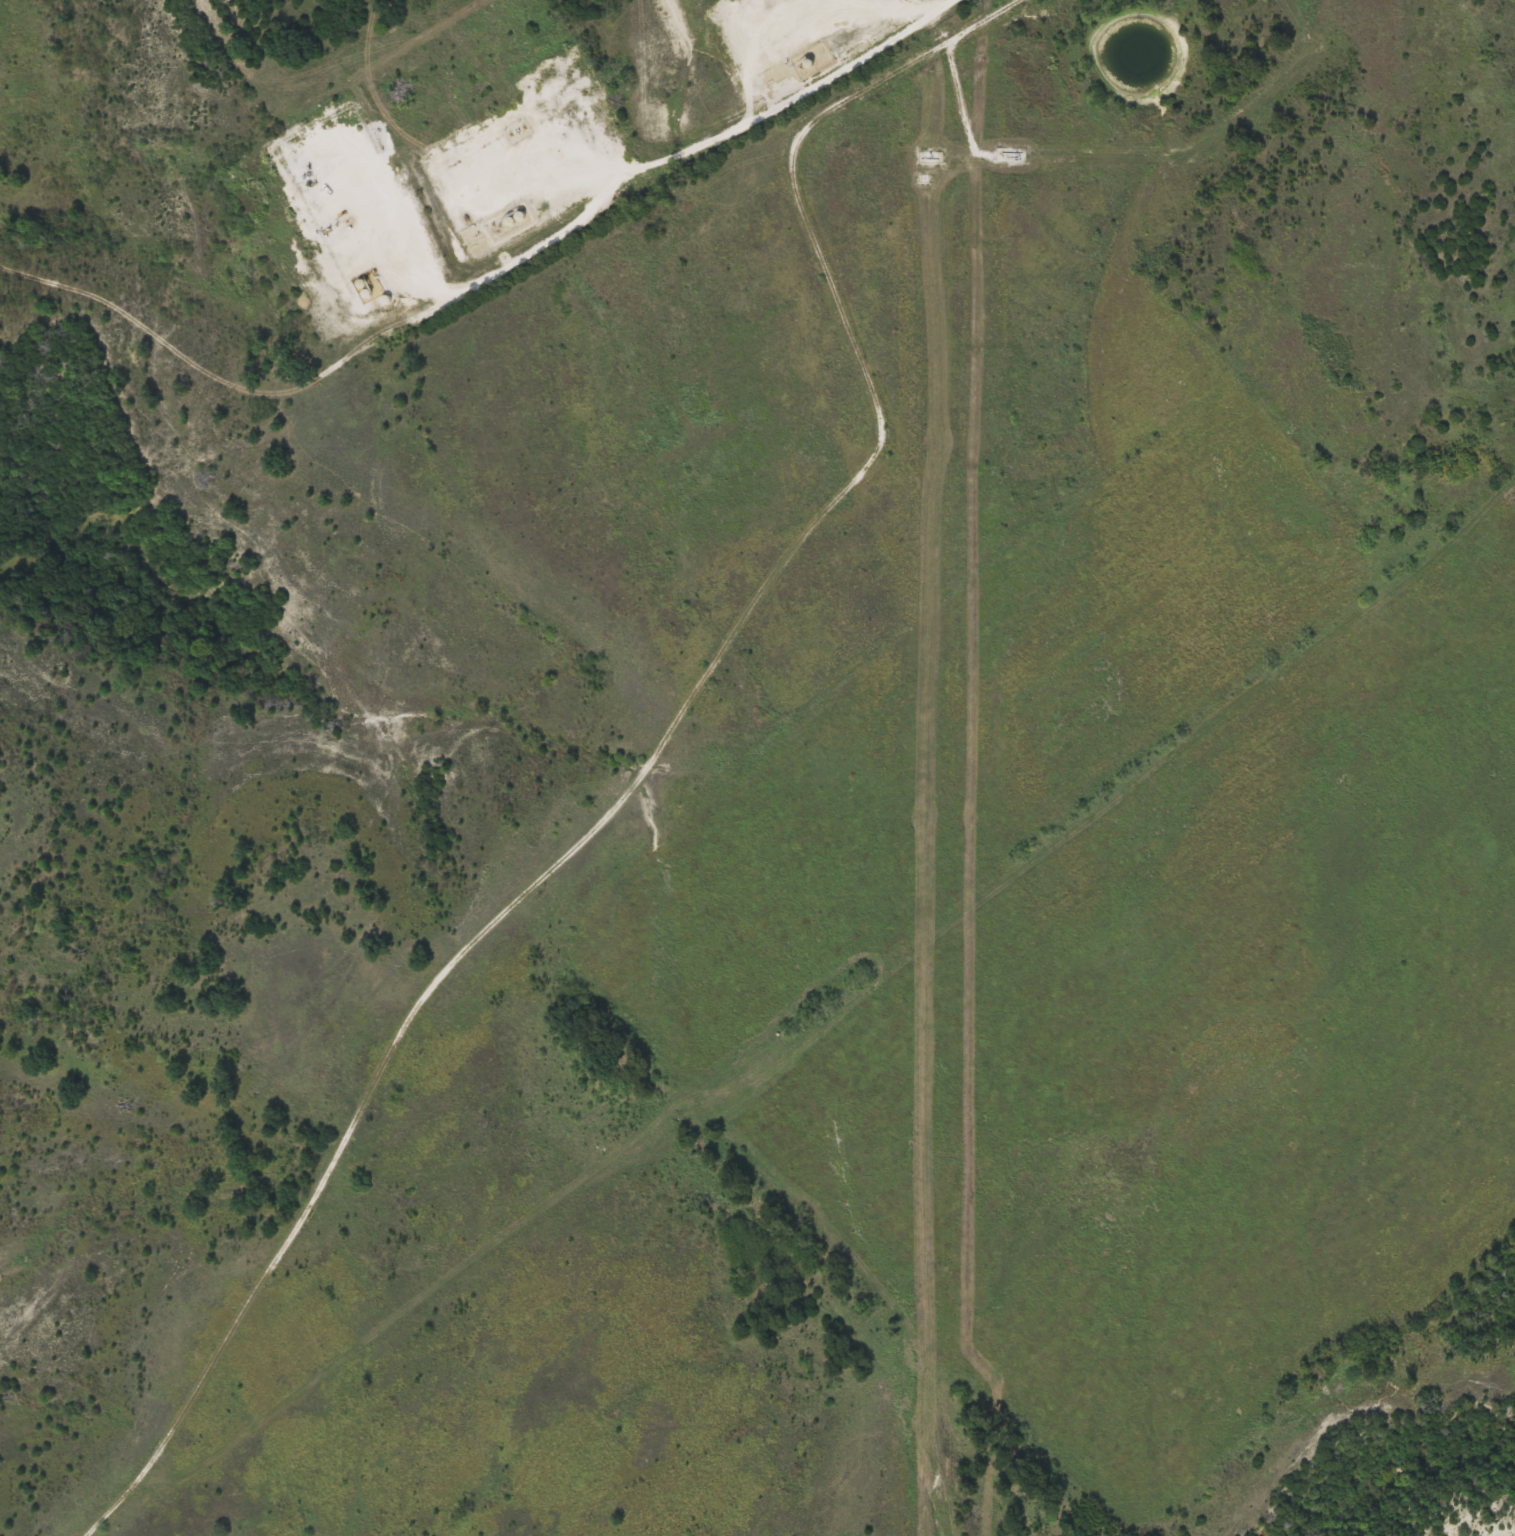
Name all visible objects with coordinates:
road: (951, 65)

